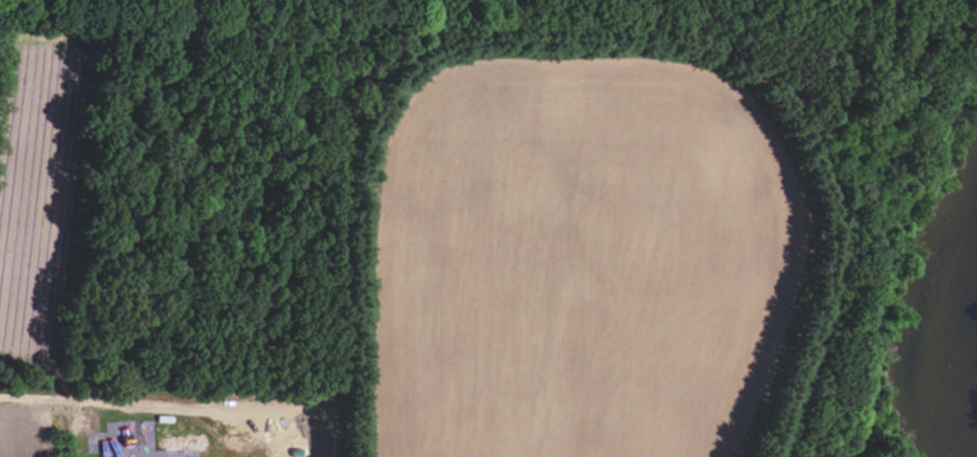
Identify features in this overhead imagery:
river: (973, 300)

